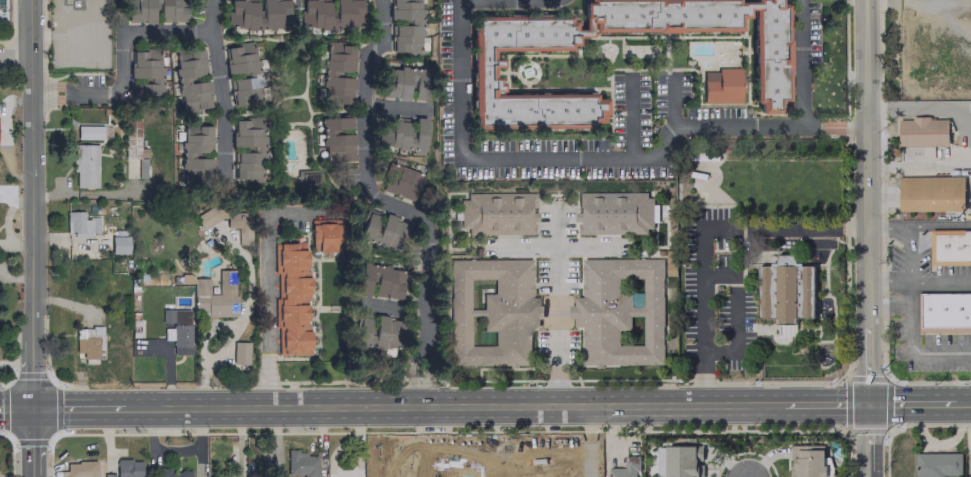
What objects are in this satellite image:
parking lot: (295, 3)
parking lot: (197, 7)
building: (140, 14)
building: (256, 14)
parking lot: (117, 17)
building: (335, 20)
road: (12, 25)
building: (405, 26)
road: (742, 26)
parking lot: (813, 31)
crop: (75, 34)
road: (648, 37)
road: (254, 39)
park: (638, 50)
road: (634, 56)
road: (14, 59)
road: (526, 59)
road: (121, 62)
building: (769, 62)
road: (799, 63)
road: (532, 64)
road: (503, 71)
road: (628, 71)
road: (42, 72)
building: (146, 72)
building: (338, 73)
road: (666, 73)
building: (252, 76)
building: (181, 79)
road: (461, 79)
parking lot: (88, 80)
building: (404, 83)
parking lot: (445, 83)
road: (746, 85)
building: (722, 87)
road: (115, 89)
road: (219, 92)
road: (670, 100)
road: (173, 101)
parking lot: (655, 104)
road: (393, 108)
road: (918, 108)
road: (269, 111)
road: (331, 112)
road: (221, 115)
road: (628, 115)
road: (295, 123)
road: (833, 127)
road: (608, 128)
building: (922, 131)
building: (88, 132)
building: (399, 136)
building: (133, 140)
building: (334, 140)
parking lot: (540, 145)
building: (249, 150)
building: (192, 155)
road: (644, 156)
building: (85, 165)
road: (918, 167)
parking lot: (371, 169)
parking lot: (563, 171)
parking lot: (350, 176)
building: (310, 178)
building: (398, 178)
road: (109, 192)
road: (52, 193)
building: (931, 193)
parking lot: (419, 197)
road: (29, 203)
road: (389, 207)
building: (498, 213)
building: (615, 213)
building: (207, 217)
building: (81, 224)
building: (240, 226)
road: (888, 226)
road: (940, 226)
building: (385, 231)
road: (702, 233)
building: (325, 236)
road: (867, 238)
road: (307, 239)
building: (119, 245)
building: (950, 247)
road: (909, 253)
parking lot: (412, 254)
parking lot: (922, 259)
road: (266, 276)
road: (317, 276)
road: (940, 279)
road: (888, 280)
building: (381, 281)
building: (785, 290)
road: (909, 293)
building: (213, 294)
building: (291, 301)
road: (554, 306)
road: (889, 307)
road: (390, 308)
building: (619, 310)
building: (945, 312)
building: (493, 313)
building: (179, 329)
building: (166, 333)
building: (378, 334)
building: (88, 341)
parking lot: (931, 349)
building: (241, 352)
road: (920, 353)
road: (318, 379)
road: (489, 380)
road: (929, 381)
road: (308, 382)
road: (251, 385)
road: (964, 397)
road: (964, 401)
road: (913, 402)
road: (825, 403)
traffic signals: (870, 403)
road: (453, 405)
road: (15, 408)
traffic signals: (31, 408)
road: (78, 408)
road: (31, 442)
building: (970, 459)
building: (683, 461)
building: (808, 461)
building: (300, 463)
building: (937, 464)
building: (481, 466)
building: (577, 467)
building: (127, 468)
building: (554, 468)
building: (625, 468)
building: (78, 469)
building: (386, 469)
building: (169, 473)
building: (107, 475)
building: (218, 476)

